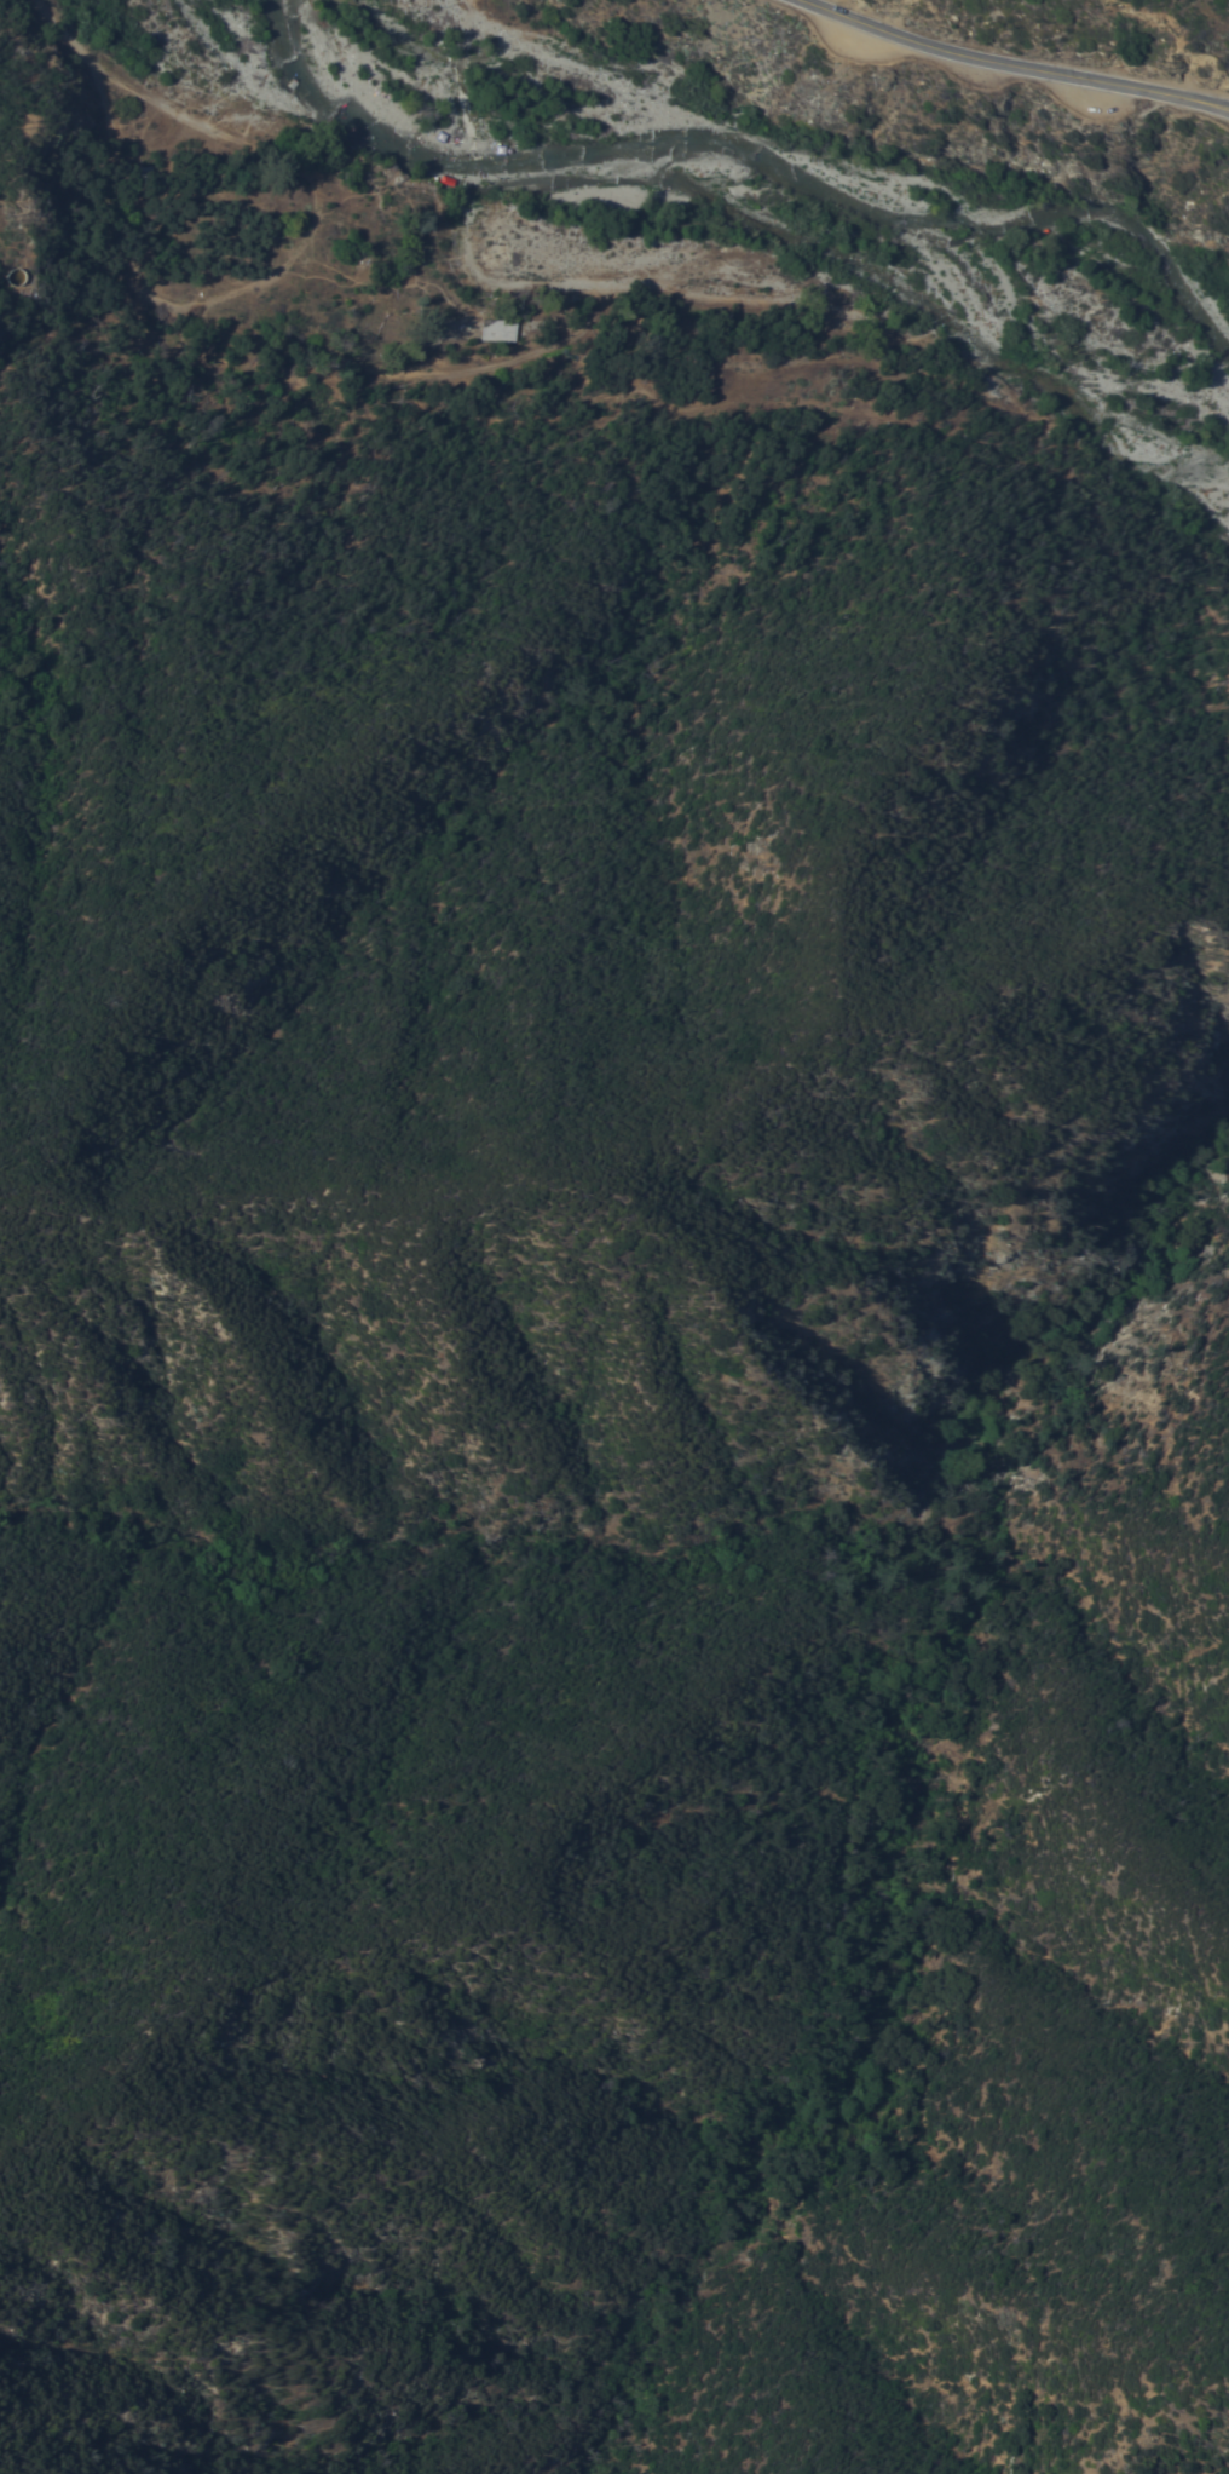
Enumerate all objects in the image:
road: (1010, 67)
building: (148, 171)
river: (767, 192)
road: (6, 235)
building: (17, 275)
road: (133, 275)
building: (497, 328)
building: (579, 375)

